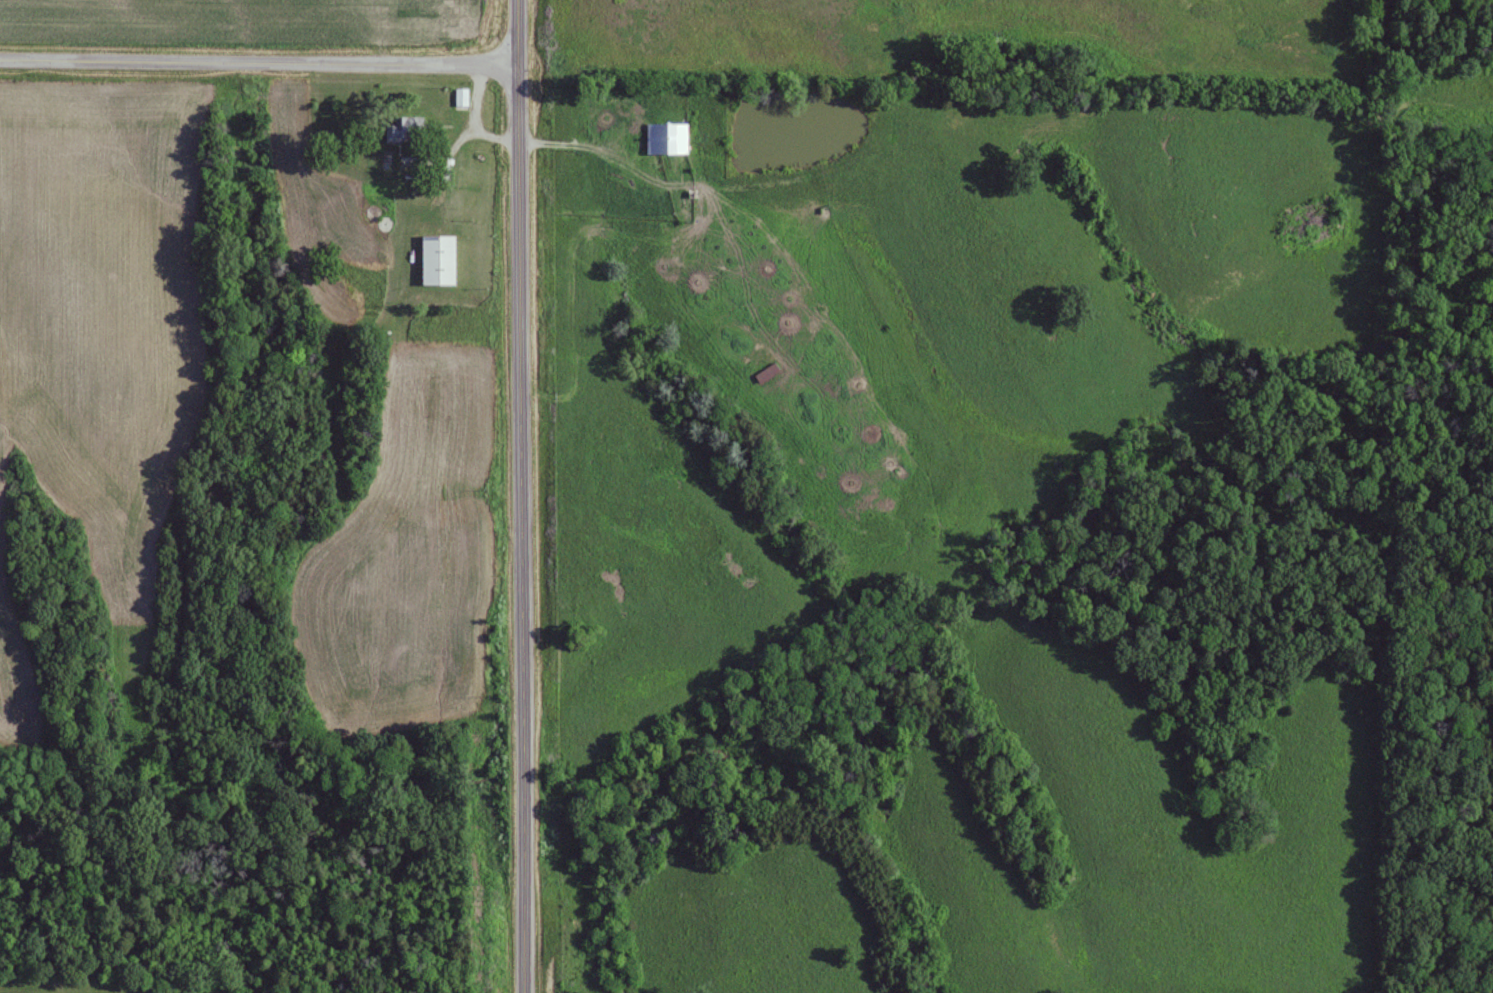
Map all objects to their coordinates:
road: (260, 62)
building: (405, 127)
building: (666, 137)
building: (437, 259)
road: (523, 496)

